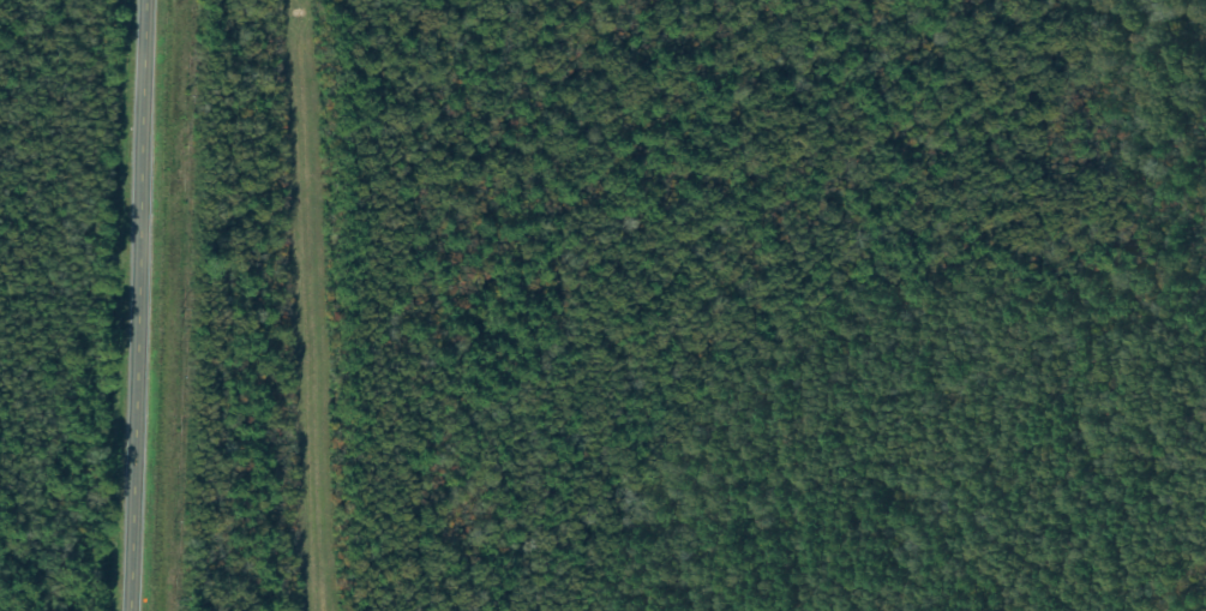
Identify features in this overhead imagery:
road: (140, 305)

